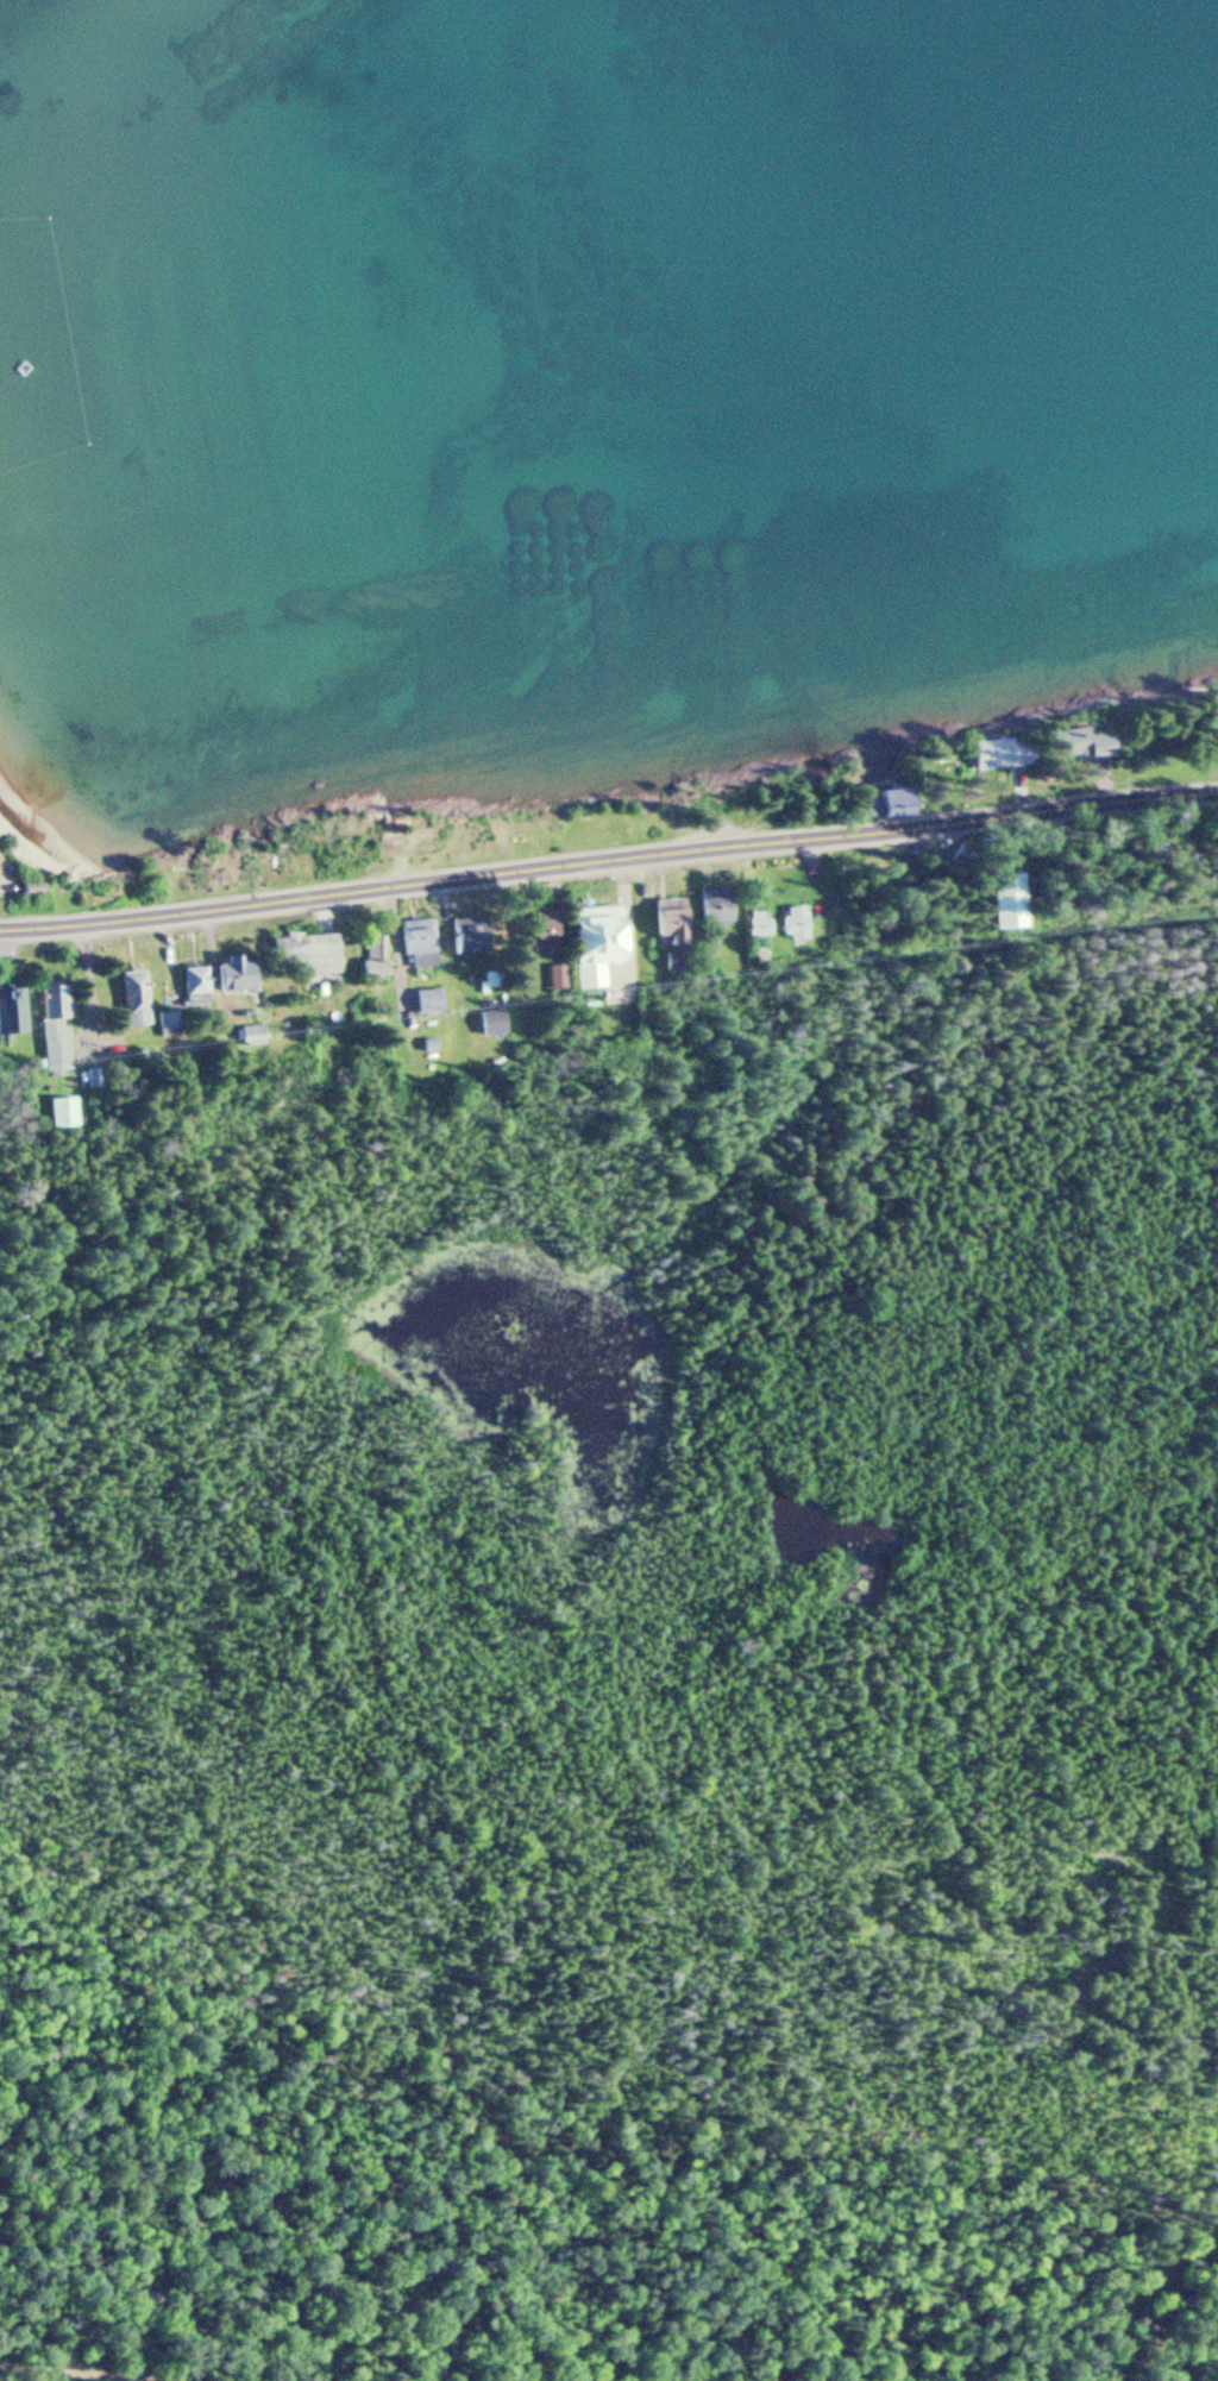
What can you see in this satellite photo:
building: (1074, 746)
building: (884, 804)
road: (619, 859)
building: (1009, 903)
building: (712, 912)
building: (668, 924)
building: (795, 924)
building: (759, 928)
road: (11, 932)
building: (540, 934)
building: (467, 938)
building: (417, 944)
building: (594, 947)
building: (301, 957)
building: (372, 961)
building: (555, 979)
building: (215, 982)
building: (133, 1001)
building: (427, 1004)
building: (6, 1013)
building: (492, 1024)
building: (50, 1030)
building: (247, 1038)
building: (56, 1114)
road: (63, 2368)

